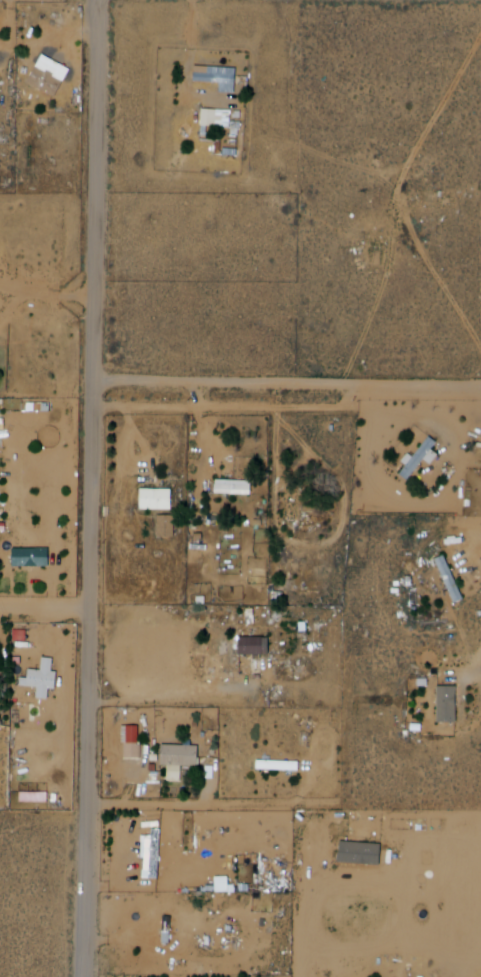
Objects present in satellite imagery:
building: (0, 56)
building: (52, 74)
building: (220, 79)
building: (212, 118)
road: (292, 385)
road: (233, 410)
building: (424, 457)
building: (236, 486)
road: (101, 488)
building: (157, 499)
building: (295, 503)
building: (34, 559)
building: (445, 579)
building: (453, 580)
road: (48, 611)
building: (259, 646)
building: (47, 676)
building: (452, 703)
building: (125, 733)
building: (182, 758)
building: (280, 765)
building: (156, 854)
building: (163, 929)
building: (170, 929)
road: (188, 969)

